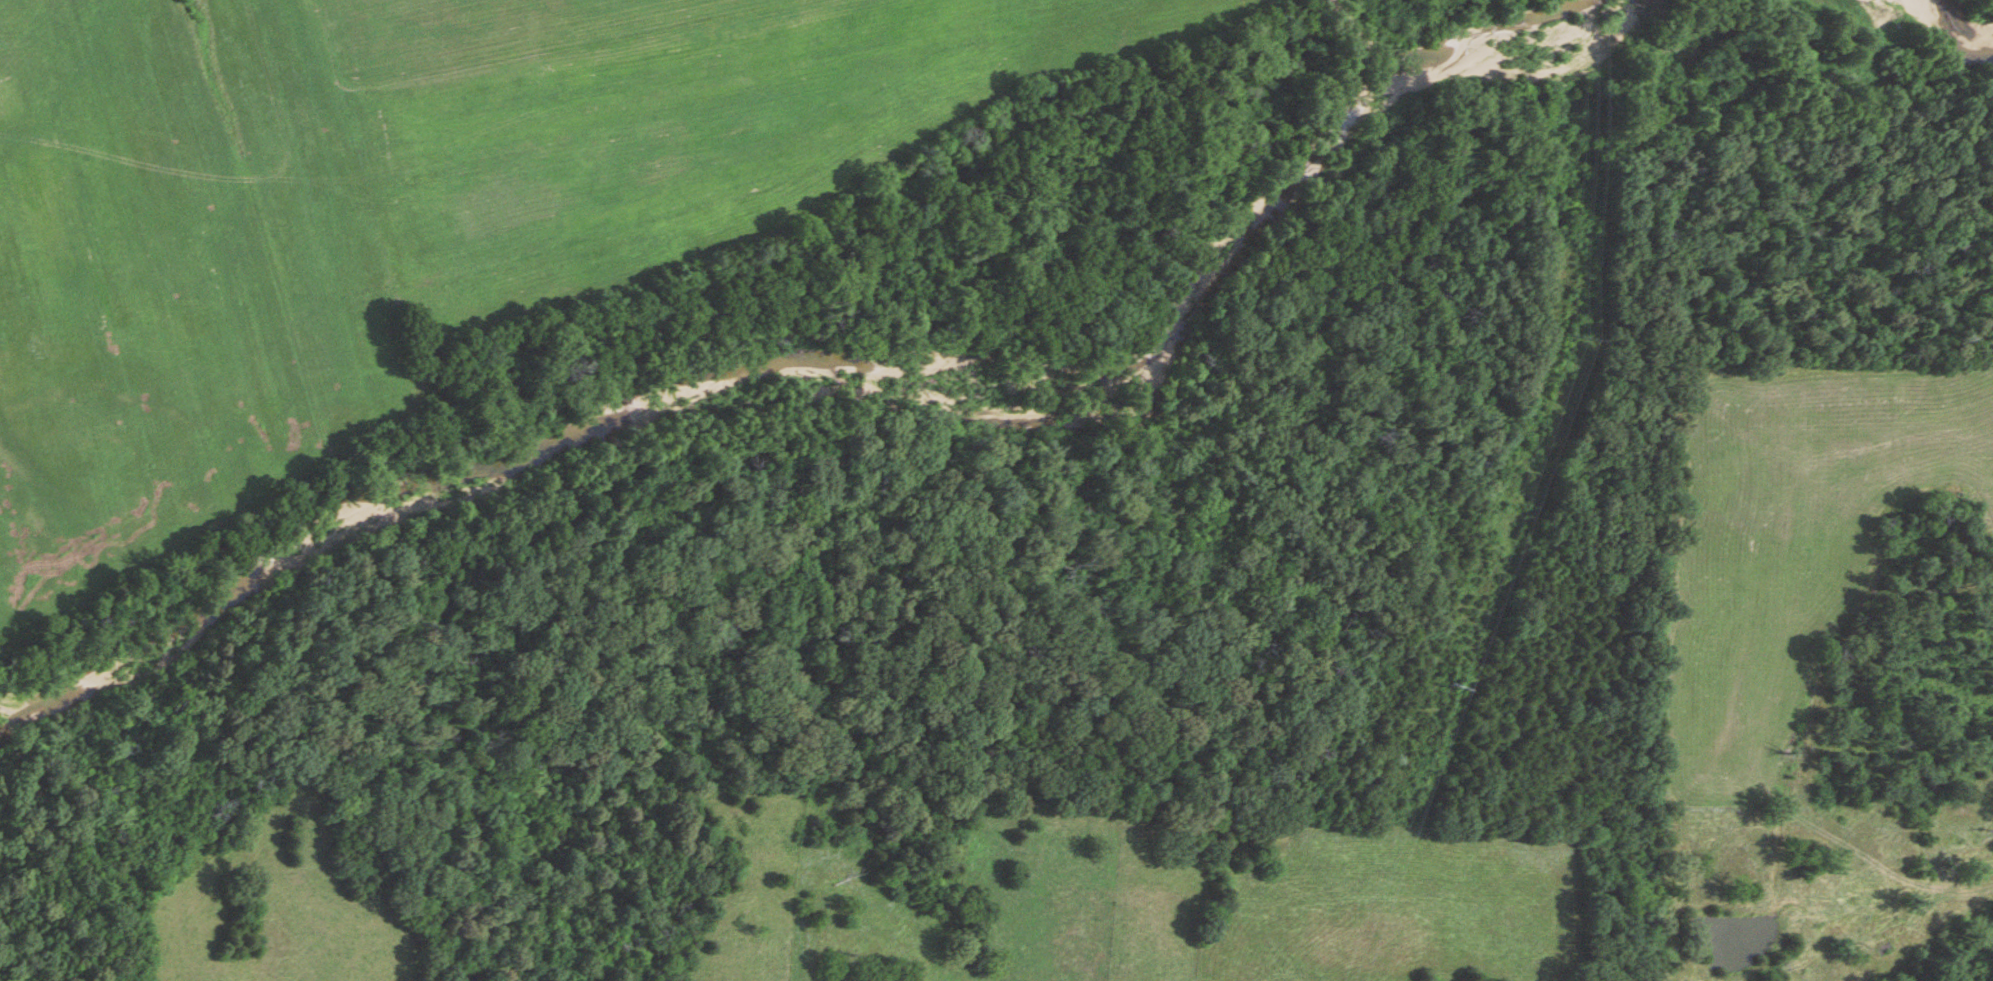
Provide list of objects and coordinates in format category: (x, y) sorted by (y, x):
power tower: (1581, 342)
power tower: (1455, 692)

